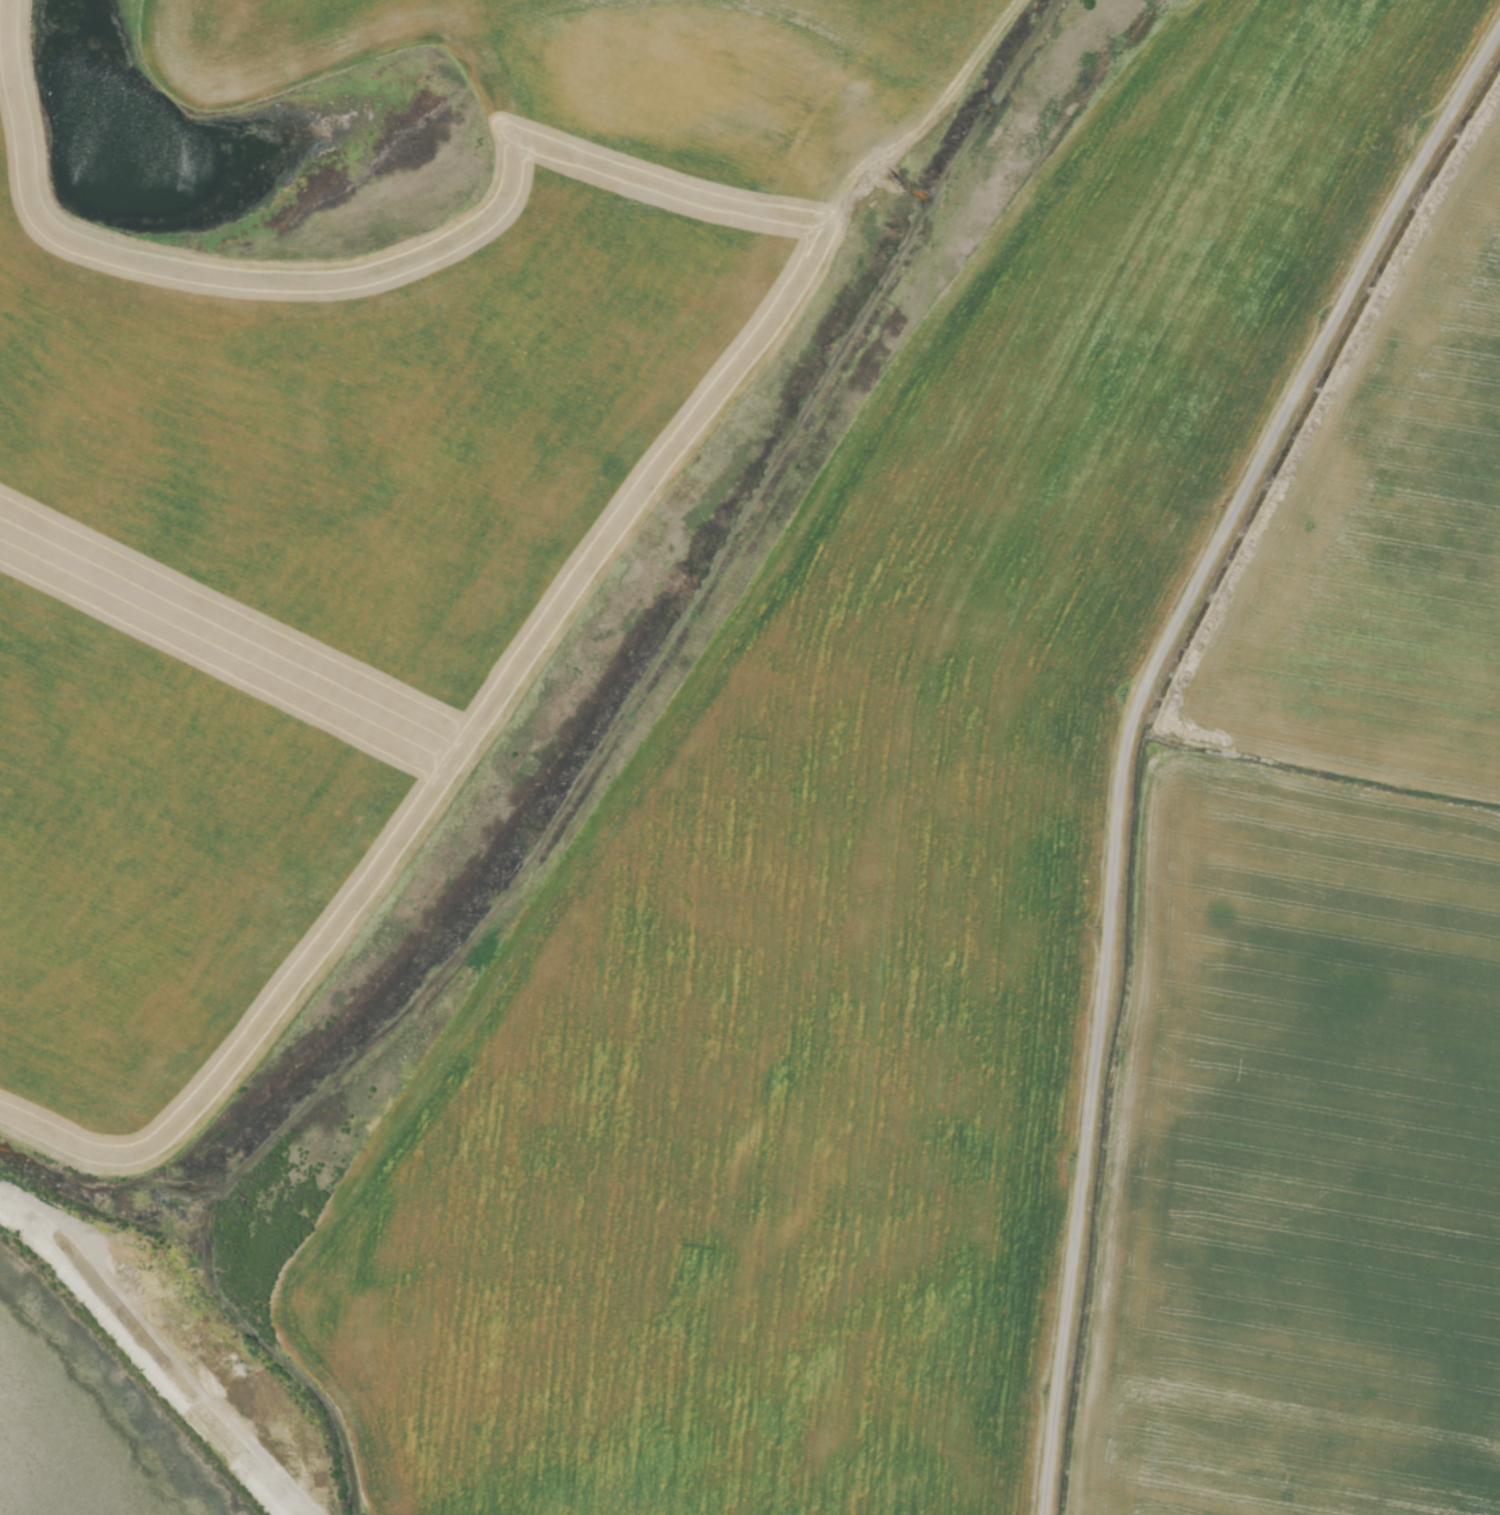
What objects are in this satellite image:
road: (1130, 730)

